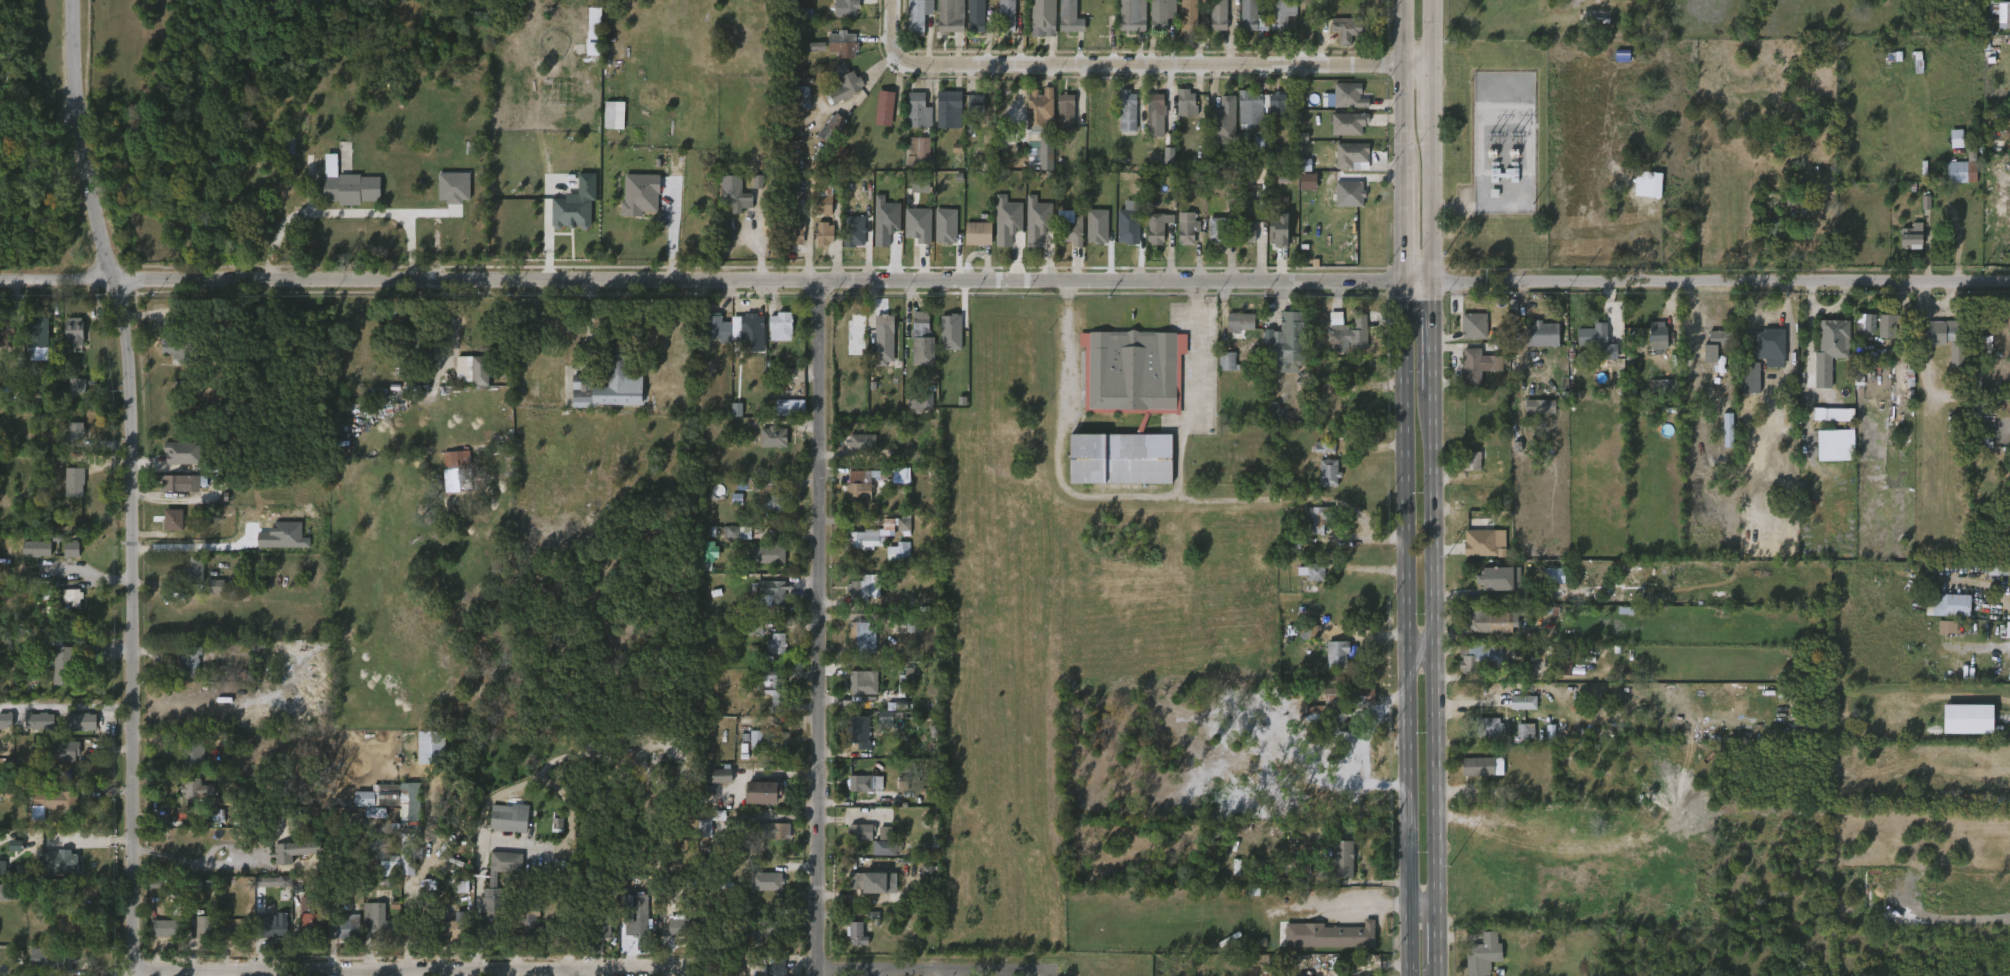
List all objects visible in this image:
building: (843, 7)
building: (1281, 13)
building: (1218, 14)
building: (1132, 15)
building: (1188, 15)
building: (2004, 15)
building: (918, 16)
building: (950, 16)
building: (975, 16)
building: (1005, 16)
building: (1158, 16)
building: (1252, 16)
building: (1069, 17)
building: (1043, 18)
building: (1242, 20)
building: (1182, 24)
building: (1212, 24)
building: (1063, 25)
building: (1275, 25)
building: (1349, 29)
building: (1255, 33)
road: (1436, 34)
building: (1340, 40)
building: (587, 41)
building: (842, 46)
building: (811, 57)
road: (1138, 69)
building: (844, 85)
building: (839, 93)
building: (1349, 94)
building: (344, 97)
building: (801, 98)
road: (1436, 98)
building: (885, 103)
building: (1186, 103)
building: (1277, 104)
building: (1339, 106)
building: (1039, 107)
building: (1251, 109)
building: (917, 110)
building: (952, 110)
building: (1066, 110)
building: (1130, 111)
building: (1180, 113)
building: (969, 114)
building: (1155, 114)
building: (1271, 114)
building: (878, 118)
building: (943, 120)
building: (1059, 121)
building: (1121, 121)
building: (1222, 121)
building: (1348, 122)
building: (608, 125)
building: (1149, 125)
building: (835, 127)
building: (1342, 134)
building: (824, 136)
road: (85, 143)
power substation: (1504, 144)
building: (1949, 148)
building: (918, 149)
building: (1046, 153)
building: (1351, 153)
building: (912, 160)
building: (1032, 160)
building: (1345, 166)
building: (1963, 170)
building: (1954, 182)
building: (345, 184)
building: (752, 192)
building: (1638, 193)
building: (829, 194)
building: (634, 199)
building: (736, 199)
building: (1343, 204)
road: (1436, 208)
building: (818, 211)
building: (570, 215)
road: (341, 219)
building: (1157, 227)
building: (1187, 228)
building: (1069, 229)
building: (1218, 229)
building: (1246, 229)
building: (795, 231)
building: (823, 232)
building: (1036, 232)
building: (1129, 232)
building: (977, 233)
building: (1913, 235)
road: (666, 236)
building: (1091, 236)
building: (1774, 236)
building: (1151, 237)
building: (1180, 239)
building: (1272, 240)
building: (790, 241)
building: (848, 241)
building: (1208, 241)
building: (1244, 241)
building: (818, 244)
building: (972, 244)
building: (1906, 246)
road: (718, 282)
road: (1722, 286)
road: (1191, 291)
road: (1066, 292)
building: (1237, 322)
building: (883, 324)
building: (778, 325)
building: (1887, 325)
building: (751, 326)
building: (1472, 326)
building: (716, 328)
building: (71, 330)
building: (1943, 331)
building: (1234, 332)
building: (1859, 333)
building: (7, 334)
building: (38, 334)
building: (1539, 334)
building: (1349, 335)
building: (1467, 336)
building: (1657, 336)
building: (1881, 336)
building: (775, 337)
building: (711, 338)
building: (921, 338)
building: (1768, 338)
building: (1832, 339)
building: (1288, 340)
building: (1596, 340)
building: (69, 341)
building: (743, 342)
road: (1436, 342)
building: (182, 344)
building: (1651, 346)
building: (1708, 346)
building: (411, 348)
building: (878, 349)
building: (1762, 349)
building: (1940, 350)
building: (1590, 351)
building: (1228, 360)
building: (1695, 360)
building: (169, 361)
building: (616, 365)
building: (1479, 365)
building: (479, 370)
building: (1221, 371)
building: (1471, 376)
building: (465, 380)
building: (581, 384)
building: (72, 396)
building: (1654, 396)
building: (603, 397)
road: (1192, 397)
building: (921, 402)
building: (1128, 405)
building: (1540, 405)
building: (912, 413)
building: (1533, 416)
building: (782, 417)
building: (730, 419)
building: (1826, 424)
building: (773, 437)
building: (860, 441)
building: (71, 443)
building: (767, 447)
building: (855, 452)
building: (1828, 455)
building: (1318, 457)
building: (455, 460)
building: (1471, 460)
building: (175, 463)
building: (1467, 469)
building: (1328, 471)
building: (448, 479)
building: (71, 481)
building: (178, 482)
building: (864, 482)
building: (1322, 482)
road: (1401, 487)
building: (175, 493)
building: (772, 495)
road: (1144, 495)
building: (853, 496)
building: (766, 513)
building: (1318, 518)
building: (170, 519)
building: (167, 530)
building: (1311, 530)
building: (877, 533)
building: (897, 534)
building: (727, 543)
building: (864, 546)
building: (34, 547)
building: (898, 551)
building: (1478, 552)
building: (768, 555)
building: (31, 558)
building: (66, 559)
building: (893, 561)
building: (761, 563)
building: (196, 568)
building: (1998, 568)
building: (1316, 571)
building: (1500, 578)
building: (189, 579)
building: (1305, 582)
building: (1547, 586)
building: (858, 588)
building: (1493, 589)
building: (773, 591)
building: (210, 596)
building: (767, 604)
building: (1949, 604)
building: (68, 607)
building: (1537, 610)
building: (1941, 614)
building: (1485, 621)
building: (909, 622)
road: (136, 628)
road: (822, 628)
building: (1480, 633)
building: (861, 637)
building: (1940, 637)
building: (2004, 640)
building: (774, 645)
building: (856, 649)
road: (1437, 650)
building: (1335, 653)
road: (1420, 655)
building: (1482, 655)
building: (192, 659)
building: (58, 662)
building: (1330, 664)
building: (1472, 667)
building: (1567, 667)
building: (184, 671)
building: (862, 682)
building: (778, 690)
building: (857, 692)
road: (67, 701)
building: (1522, 702)
building: (768, 703)
building: (1517, 712)
building: (1333, 717)
building: (37, 720)
building: (80, 721)
building: (1487, 726)
building: (882, 727)
building: (3, 730)
building: (1528, 730)
building: (33, 731)
building: (76, 731)
building: (858, 731)
building: (1484, 736)
building: (768, 739)
building: (1522, 740)
building: (769, 749)
building: (66, 750)
building: (193, 754)
building: (63, 761)
building: (1480, 766)
building: (186, 767)
building: (1473, 777)
building: (864, 783)
building: (714, 785)
building: (194, 789)
building: (761, 792)
building: (859, 793)
building: (56, 799)
building: (191, 799)
building: (757, 802)
building: (47, 810)
building: (391, 813)
building: (209, 817)
building: (508, 818)
building: (706, 825)
building: (211, 826)
building: (773, 830)
building: (861, 831)
road: (66, 835)
building: (281, 839)
building: (768, 840)
building: (853, 842)
building: (731, 847)
building: (883, 847)
building: (1342, 859)
building: (288, 860)
building: (60, 861)
building: (505, 863)
building: (1295, 865)
road: (212, 866)
building: (54, 872)
building: (500, 872)
building: (391, 876)
building: (0, 878)
building: (17, 879)
building: (773, 880)
building: (860, 881)
building: (267, 891)
building: (862, 892)
building: (422, 894)
road: (1357, 901)
building: (1, 902)
road: (478, 903)
road: (1421, 906)
building: (490, 911)
building: (419, 920)
building: (375, 922)
building: (530, 924)
building: (272, 925)
building: (309, 926)
building: (345, 926)
building: (867, 926)
building: (635, 927)
building: (678, 927)
building: (164, 928)
building: (596, 928)
building: (202, 929)
building: (454, 930)
building: (764, 930)
building: (856, 934)
building: (1322, 935)
building: (672, 937)
building: (158, 938)
building: (445, 939)
road: (1439, 941)
building: (758, 944)
building: (851, 944)
building: (1478, 957)
building: (65, 960)
building: (773, 967)
road: (414, 968)
building: (55, 969)
road: (933, 970)
road: (578, 971)
road: (354, 972)

